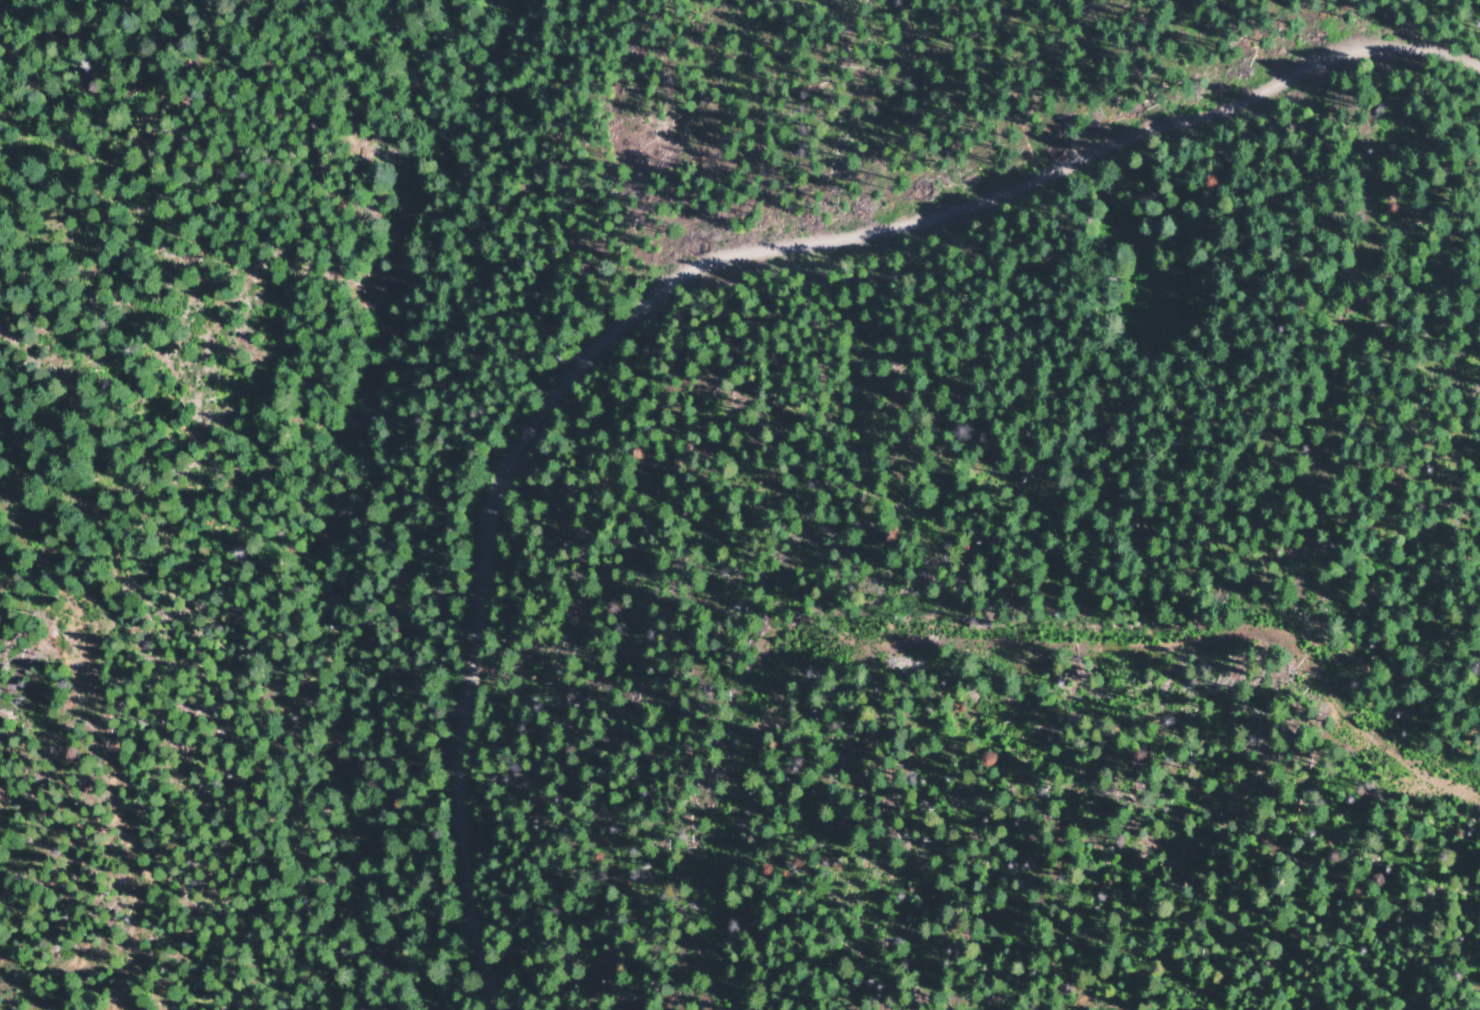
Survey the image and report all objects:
road: (688, 272)

